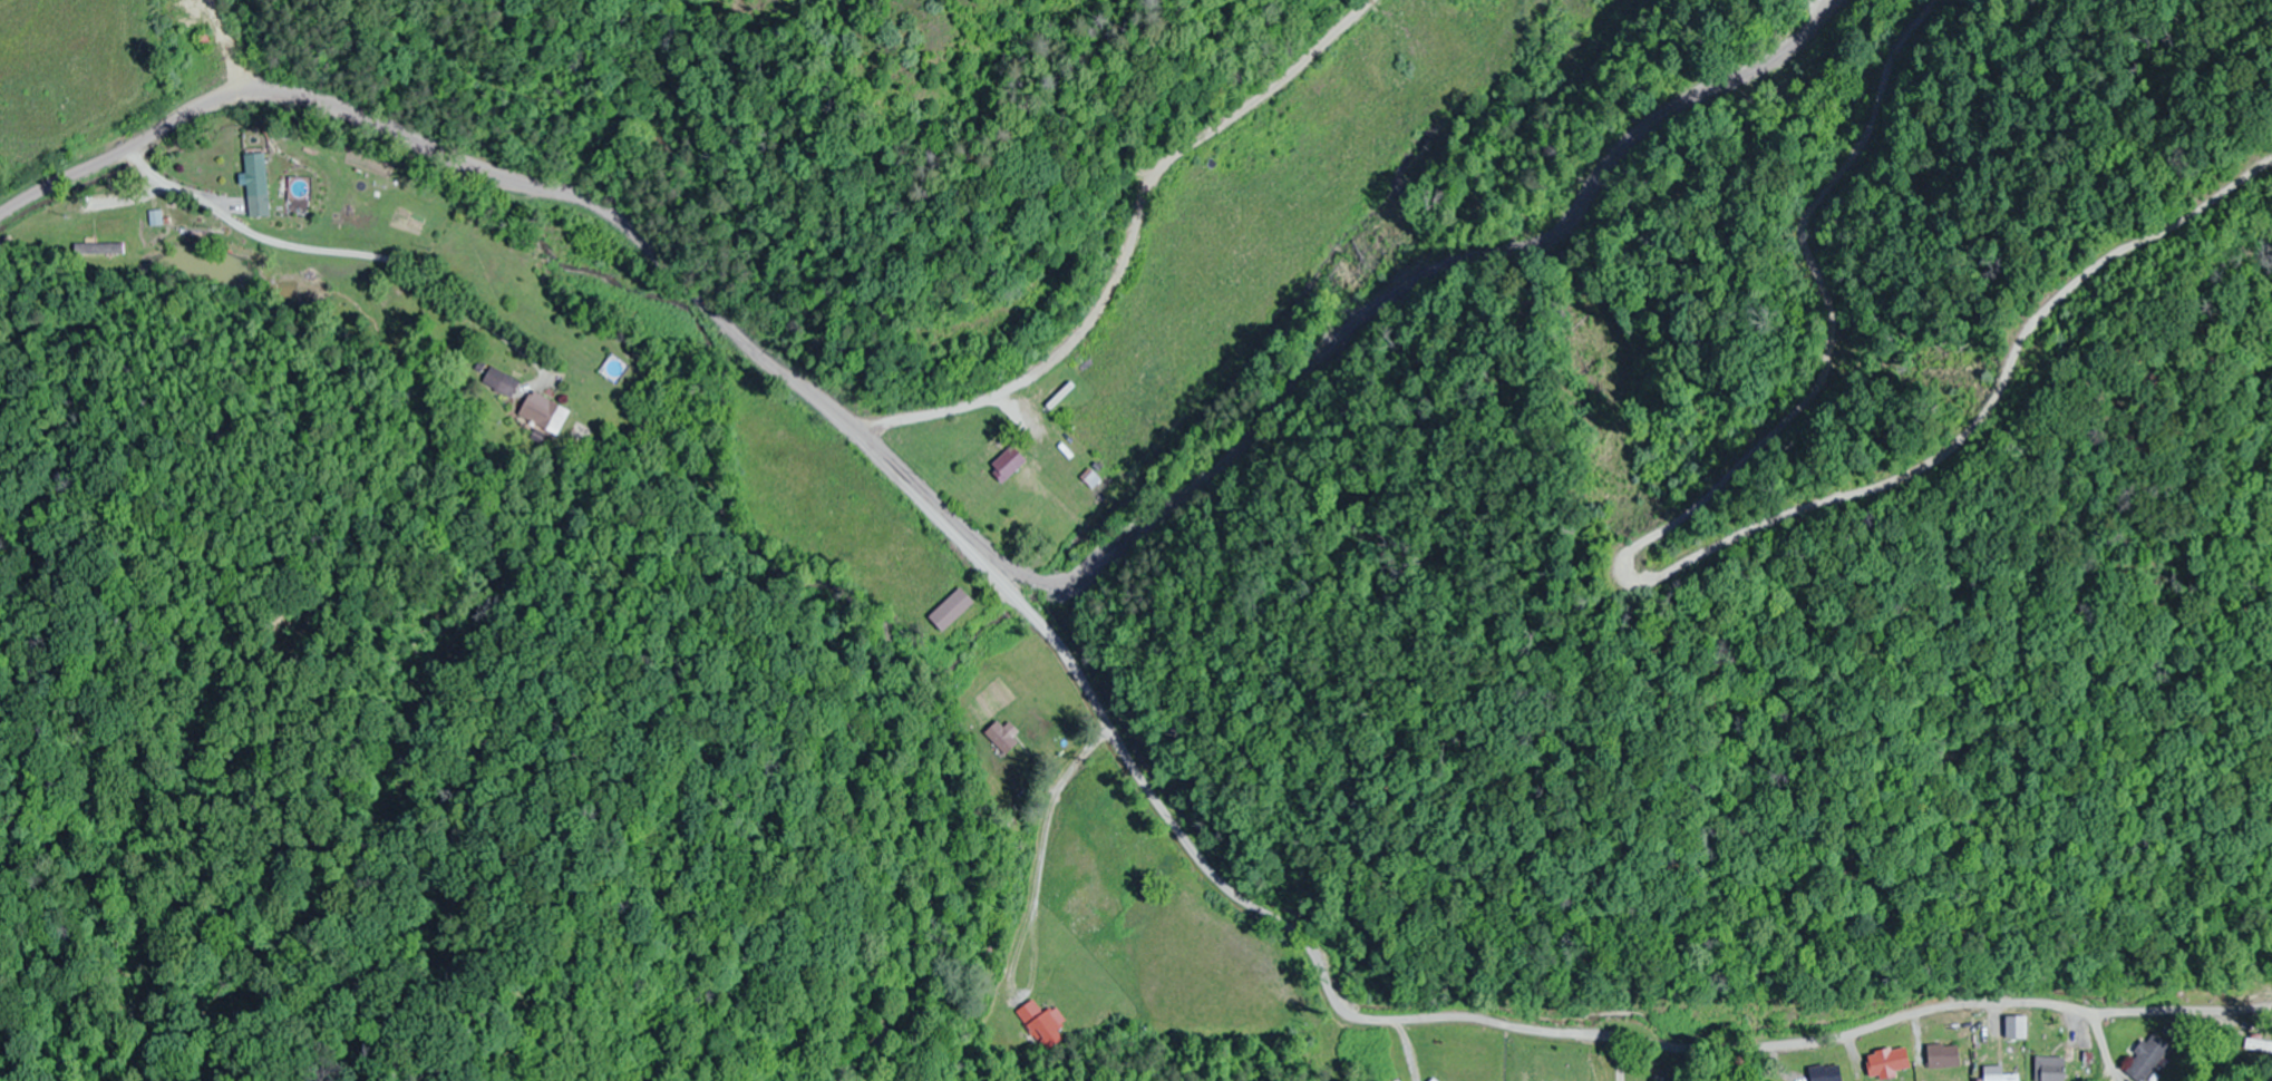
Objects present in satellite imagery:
building: (205, 41)
road: (237, 49)
road: (122, 148)
building: (258, 187)
building: (100, 253)
road: (1295, 304)
building: (502, 383)
building: (544, 413)
building: (1010, 461)
building: (1037, 526)
road: (941, 593)
building: (952, 612)
building: (1003, 737)
road: (1166, 818)
building: (1043, 1025)
building: (2171, 1032)
building: (2260, 1046)
building: (1944, 1058)
building: (2149, 1058)
building: (1887, 1062)
building: (2051, 1070)
building: (2003, 1078)
building: (1435, 1080)

